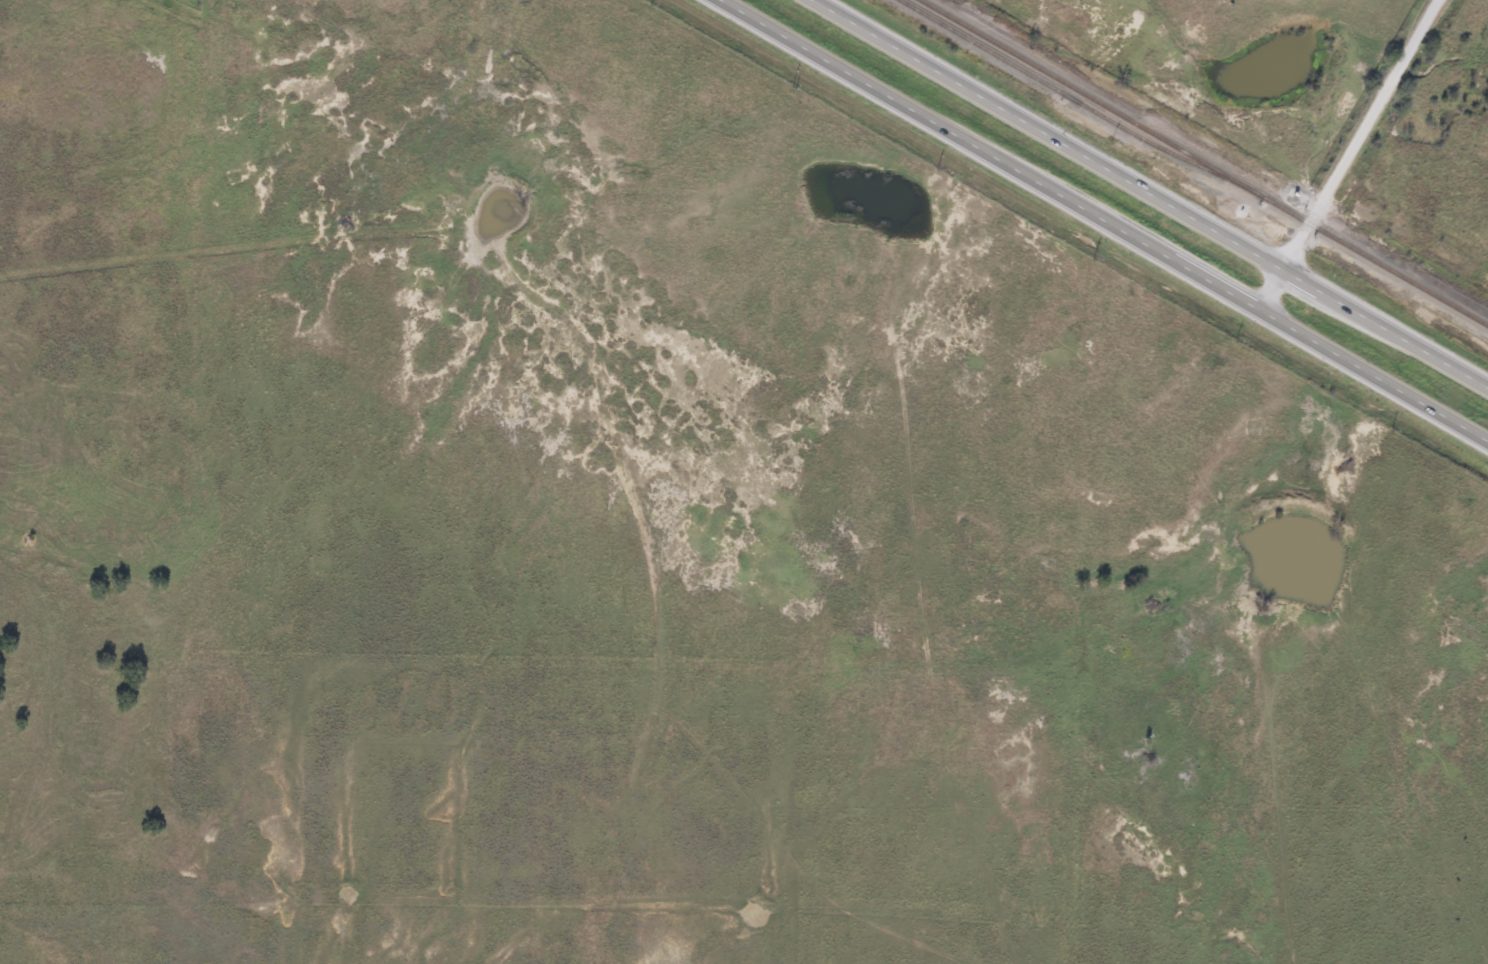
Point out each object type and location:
railway: (1065, 96)
road: (1346, 158)
railway: (1203, 163)
road: (1145, 198)
road: (1103, 225)

